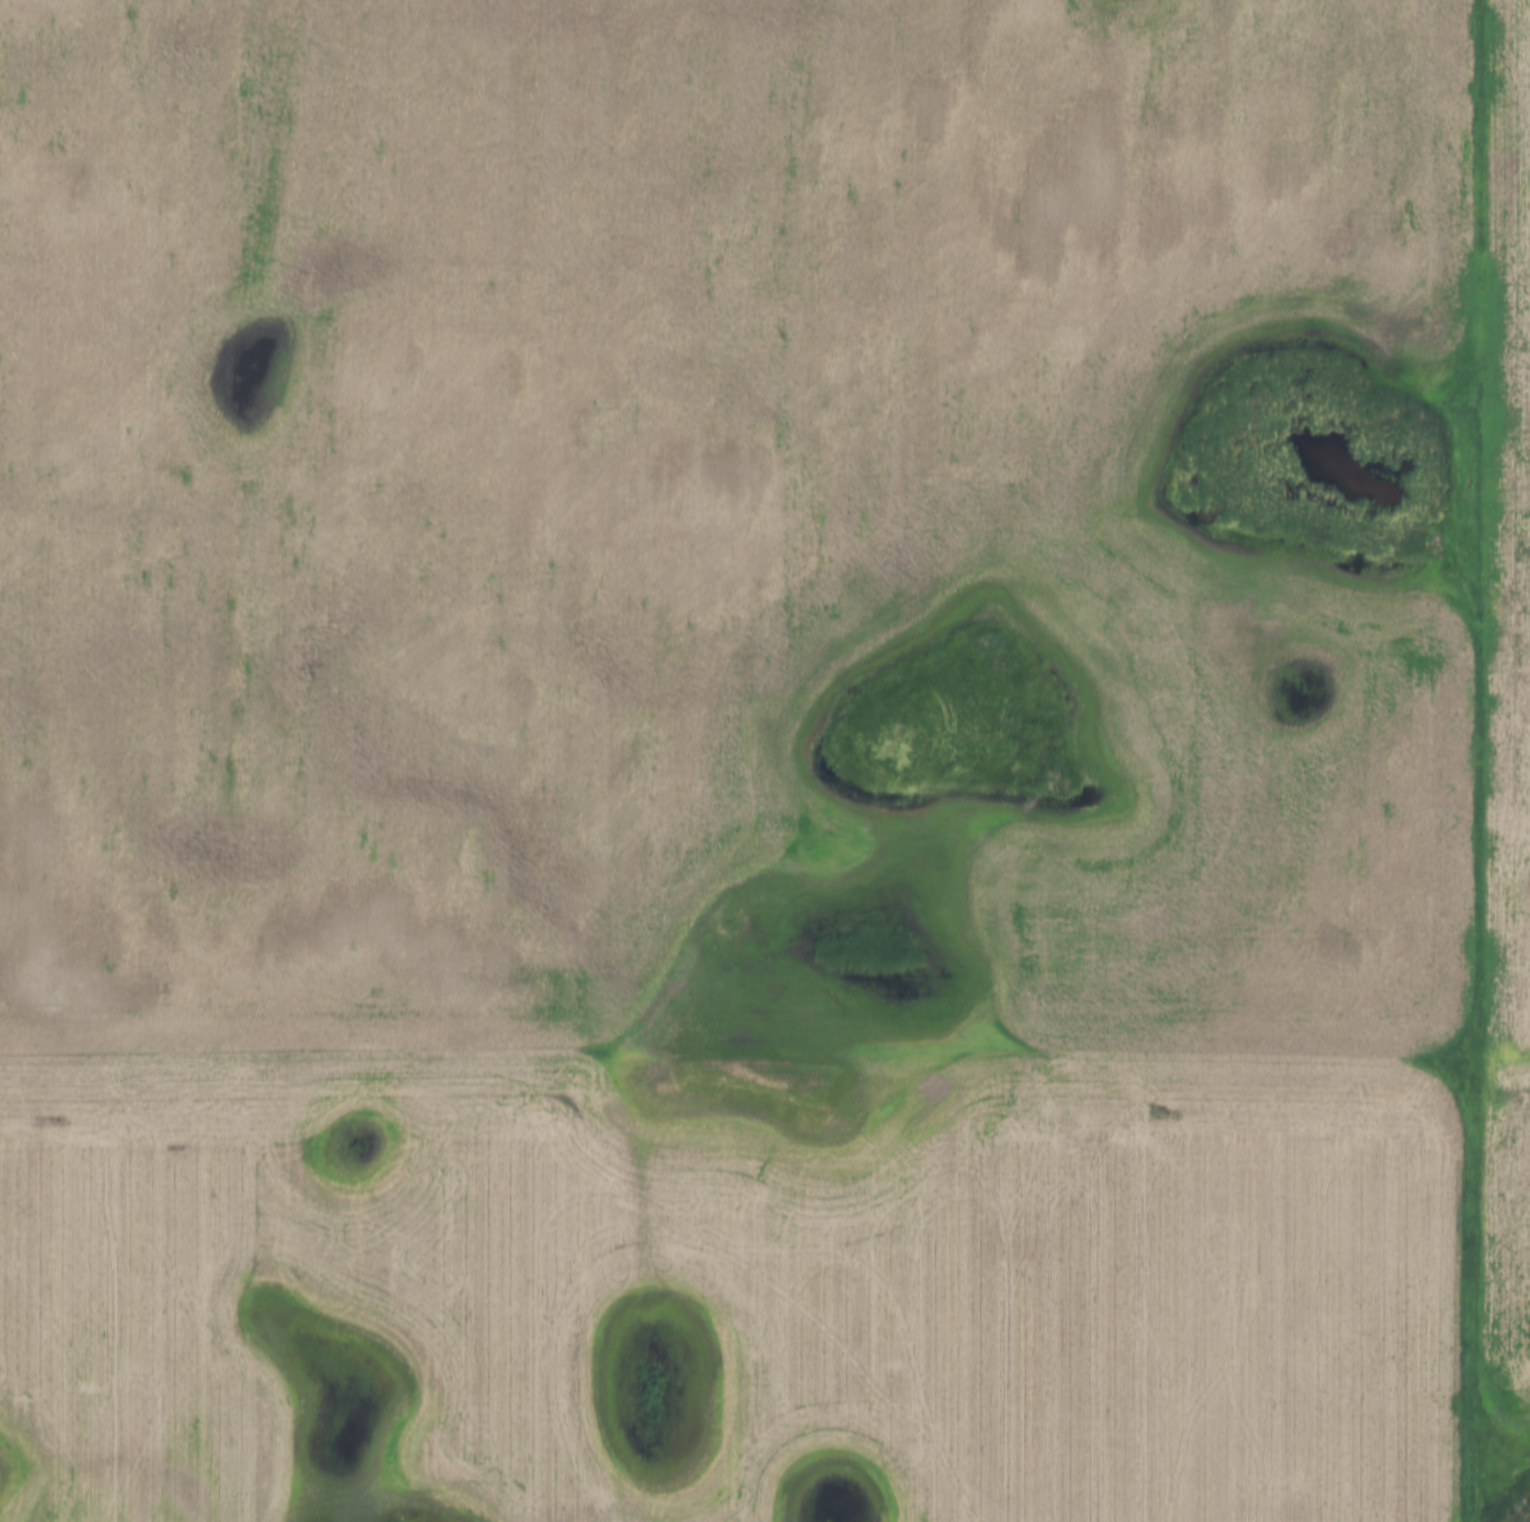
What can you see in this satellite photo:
road: (1474, 760)

